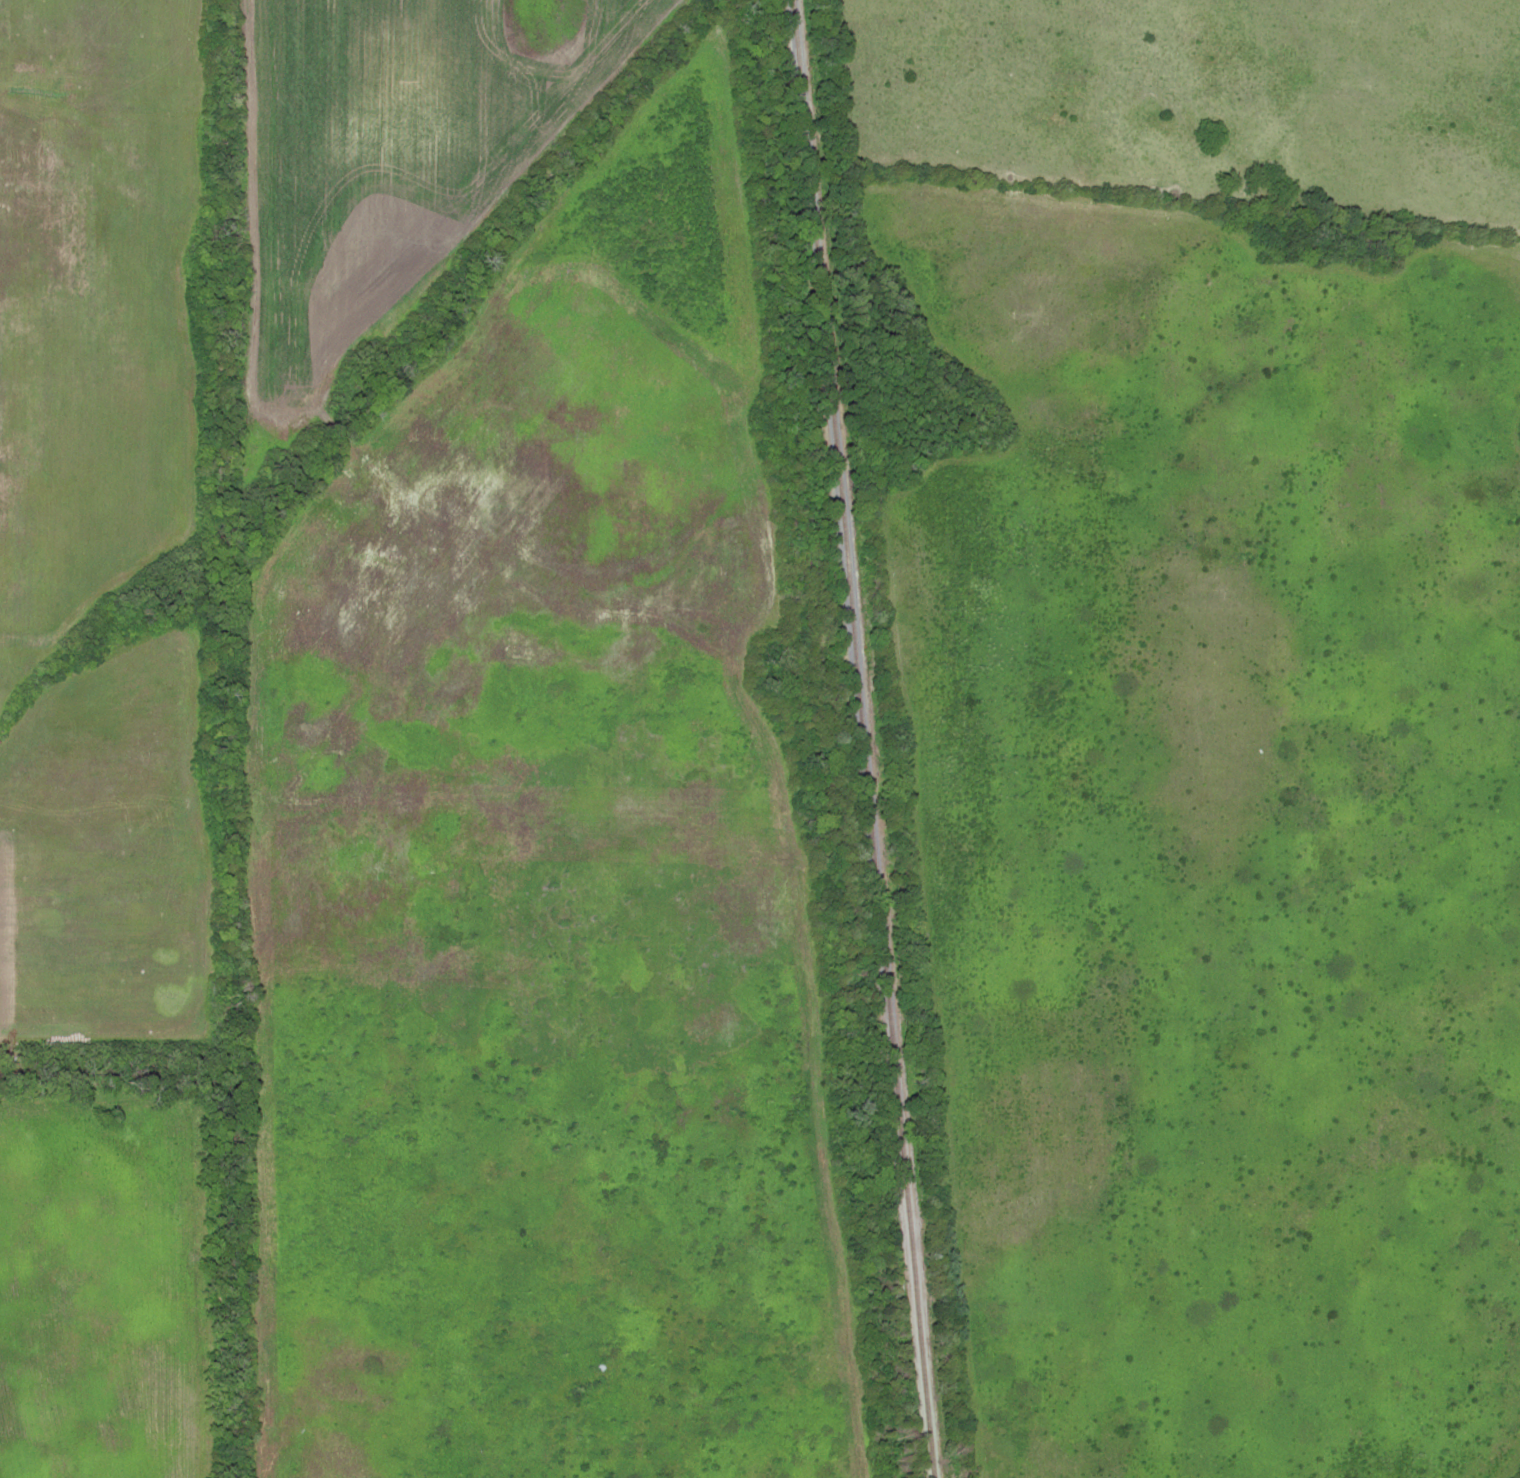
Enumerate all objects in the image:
railway: (845, 738)

